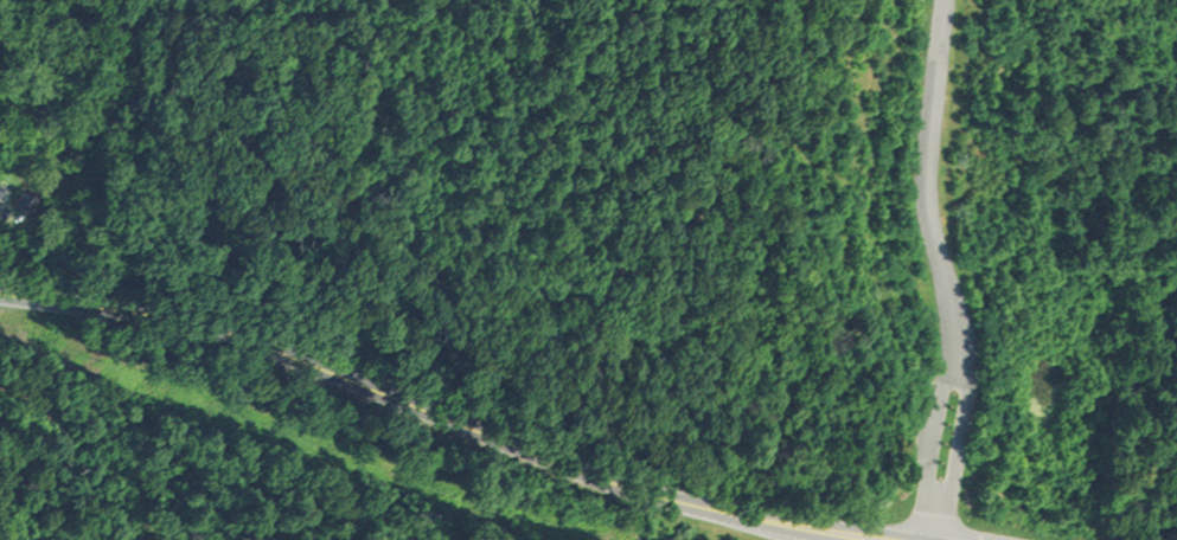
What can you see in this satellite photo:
road: (939, 270)
road: (437, 426)

